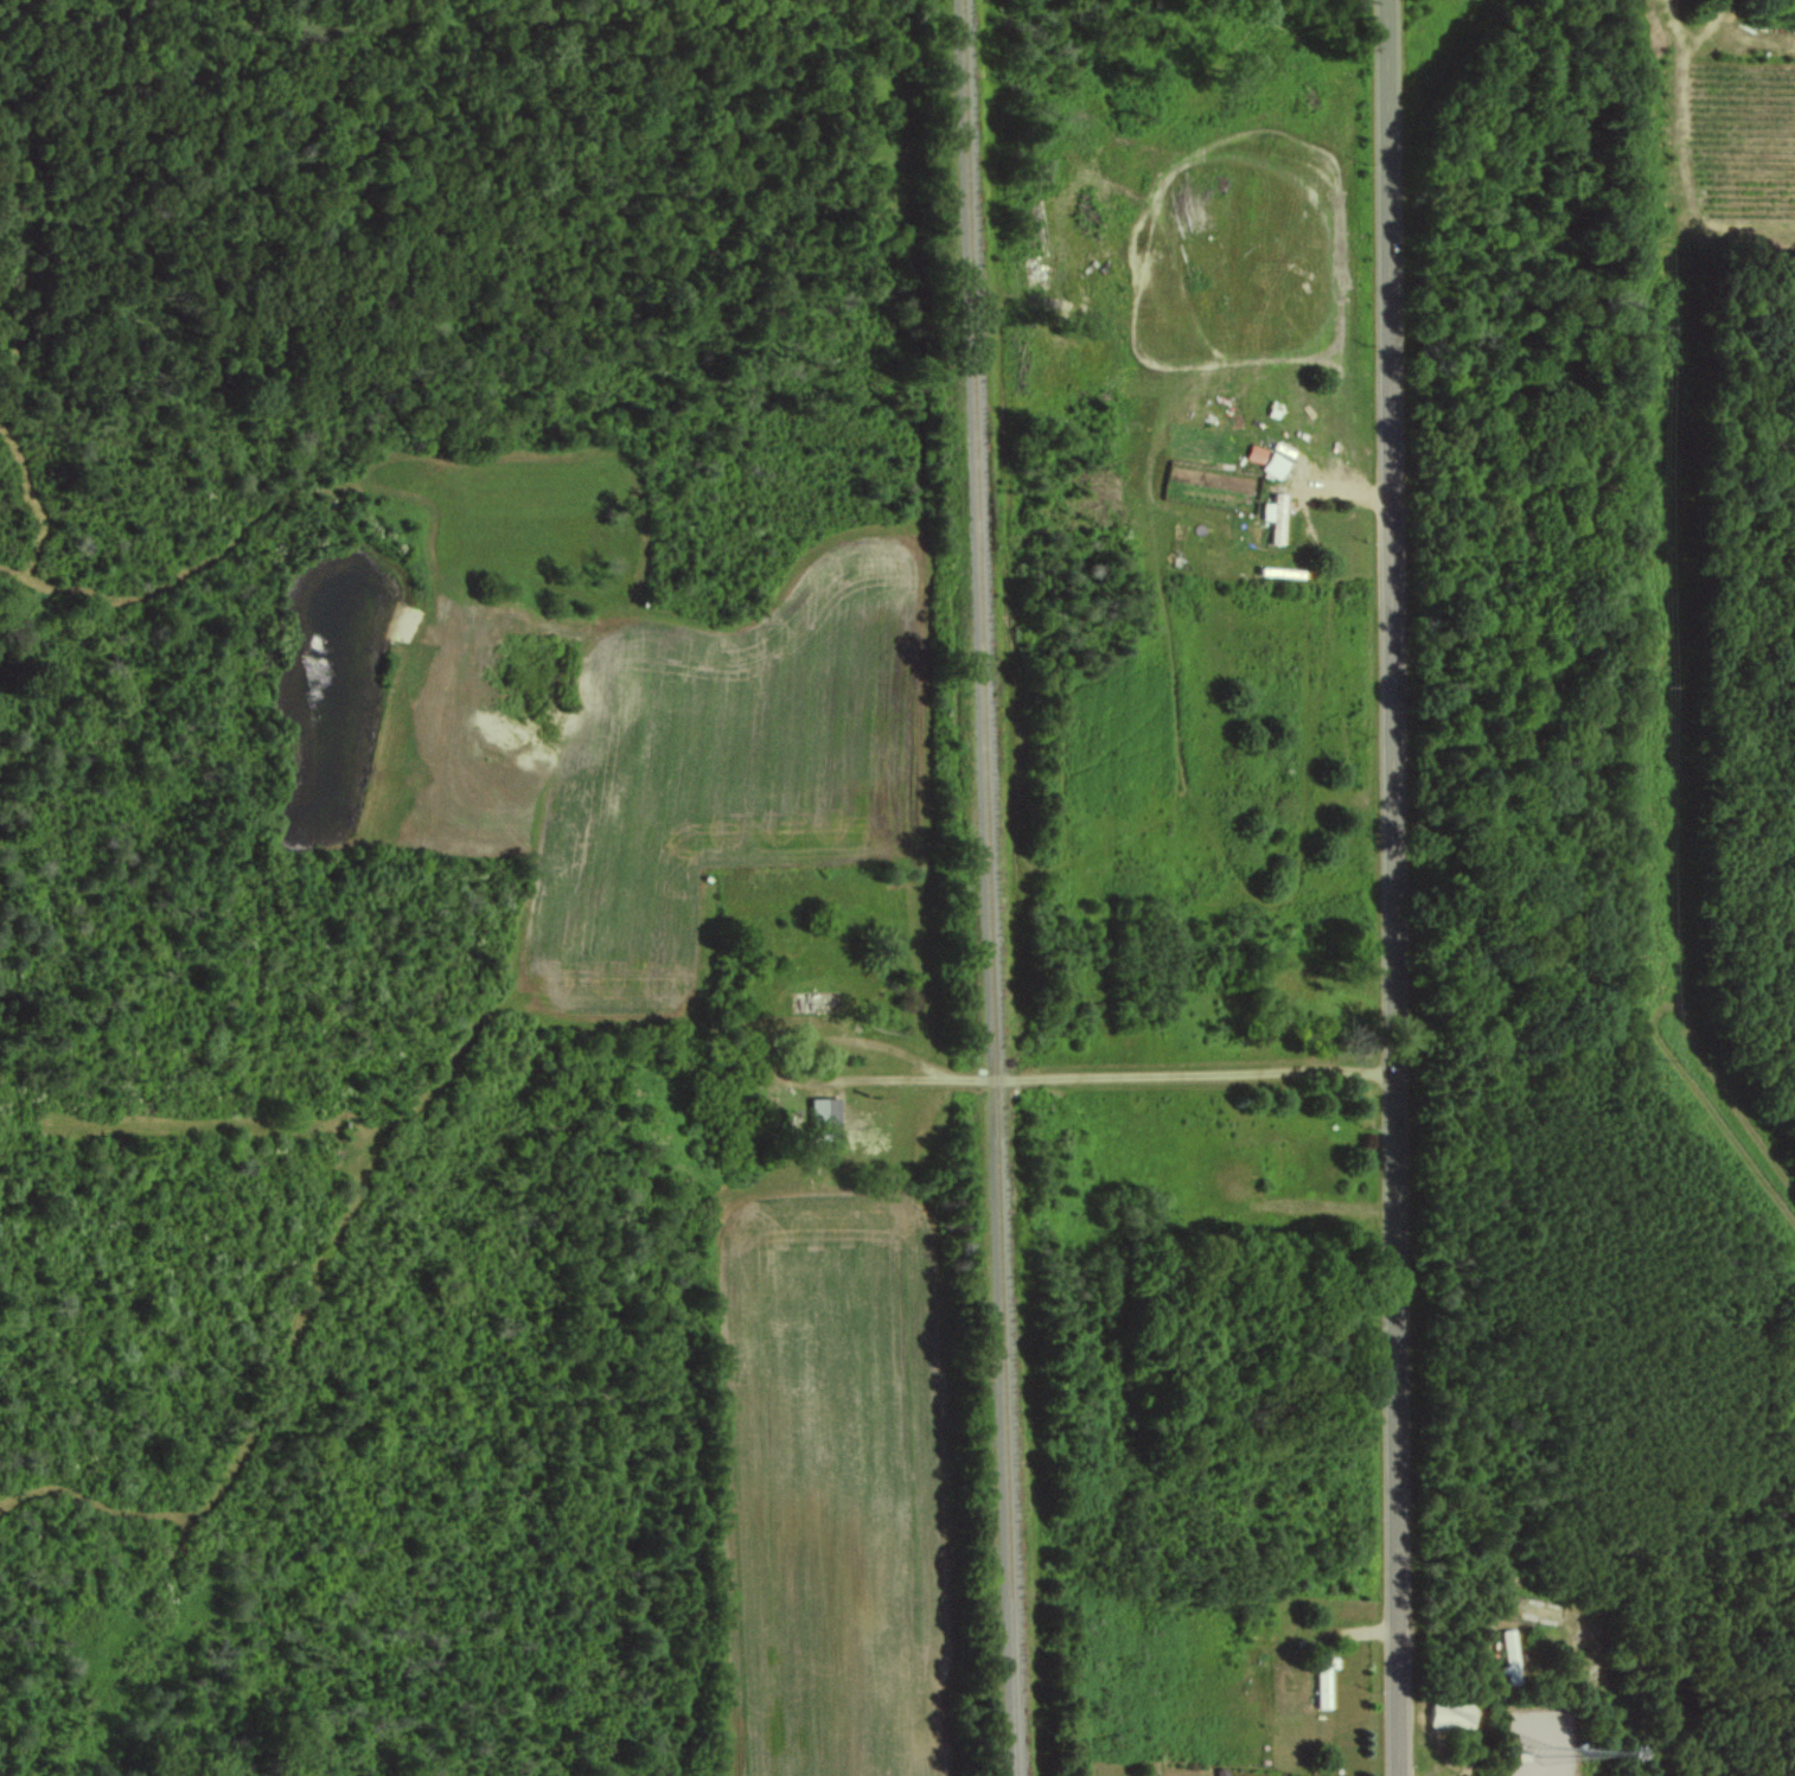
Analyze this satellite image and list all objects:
building: (1276, 464)
railway: (989, 888)
road: (1392, 888)
road: (1095, 1080)
building: (825, 1111)
road: (1507, 1614)
building: (1509, 1655)
building: (1324, 1678)
building: (1451, 1713)

